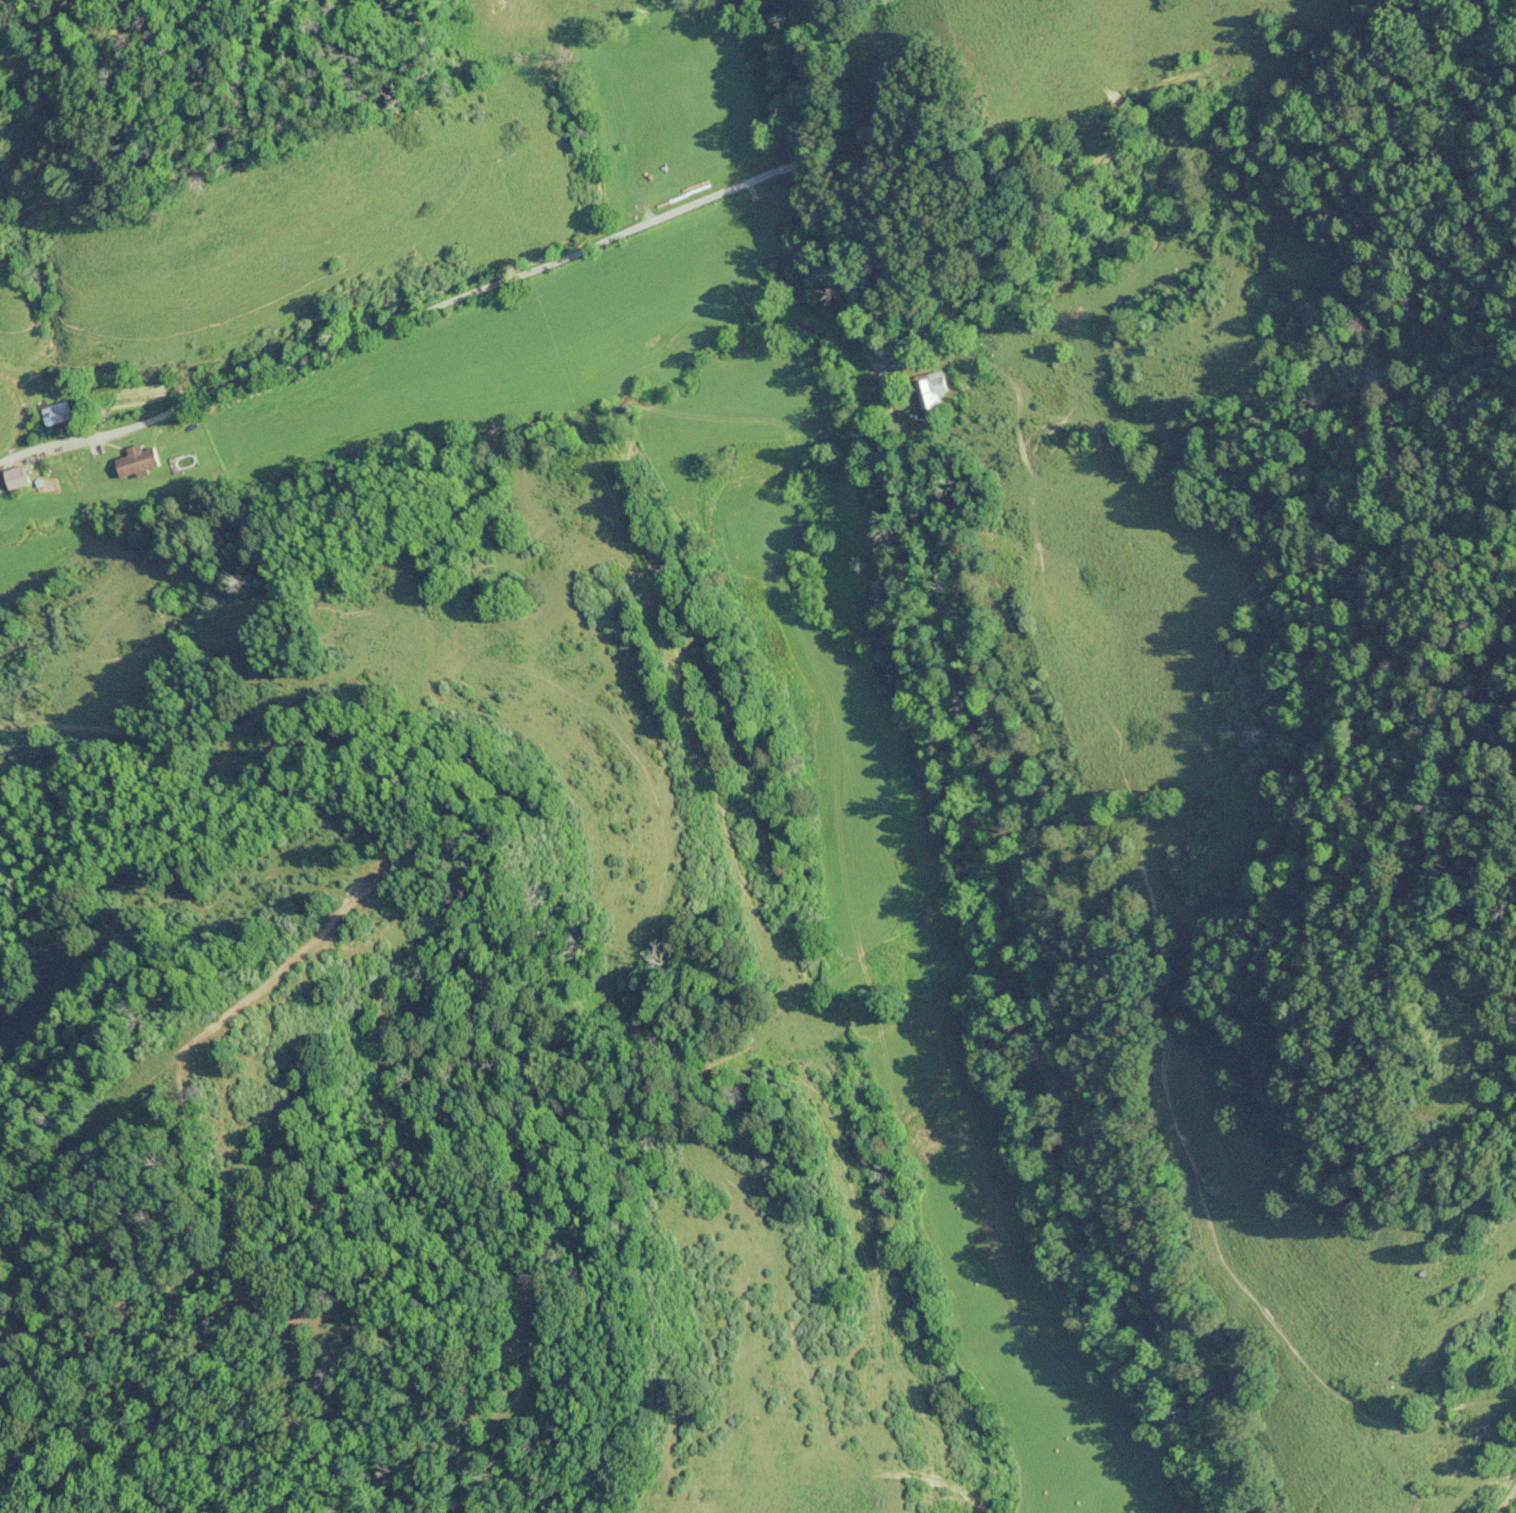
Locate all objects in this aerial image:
road: (853, 65)
road: (428, 286)
building: (929, 391)
building: (58, 414)
building: (139, 462)
building: (19, 480)
road: (1059, 826)

